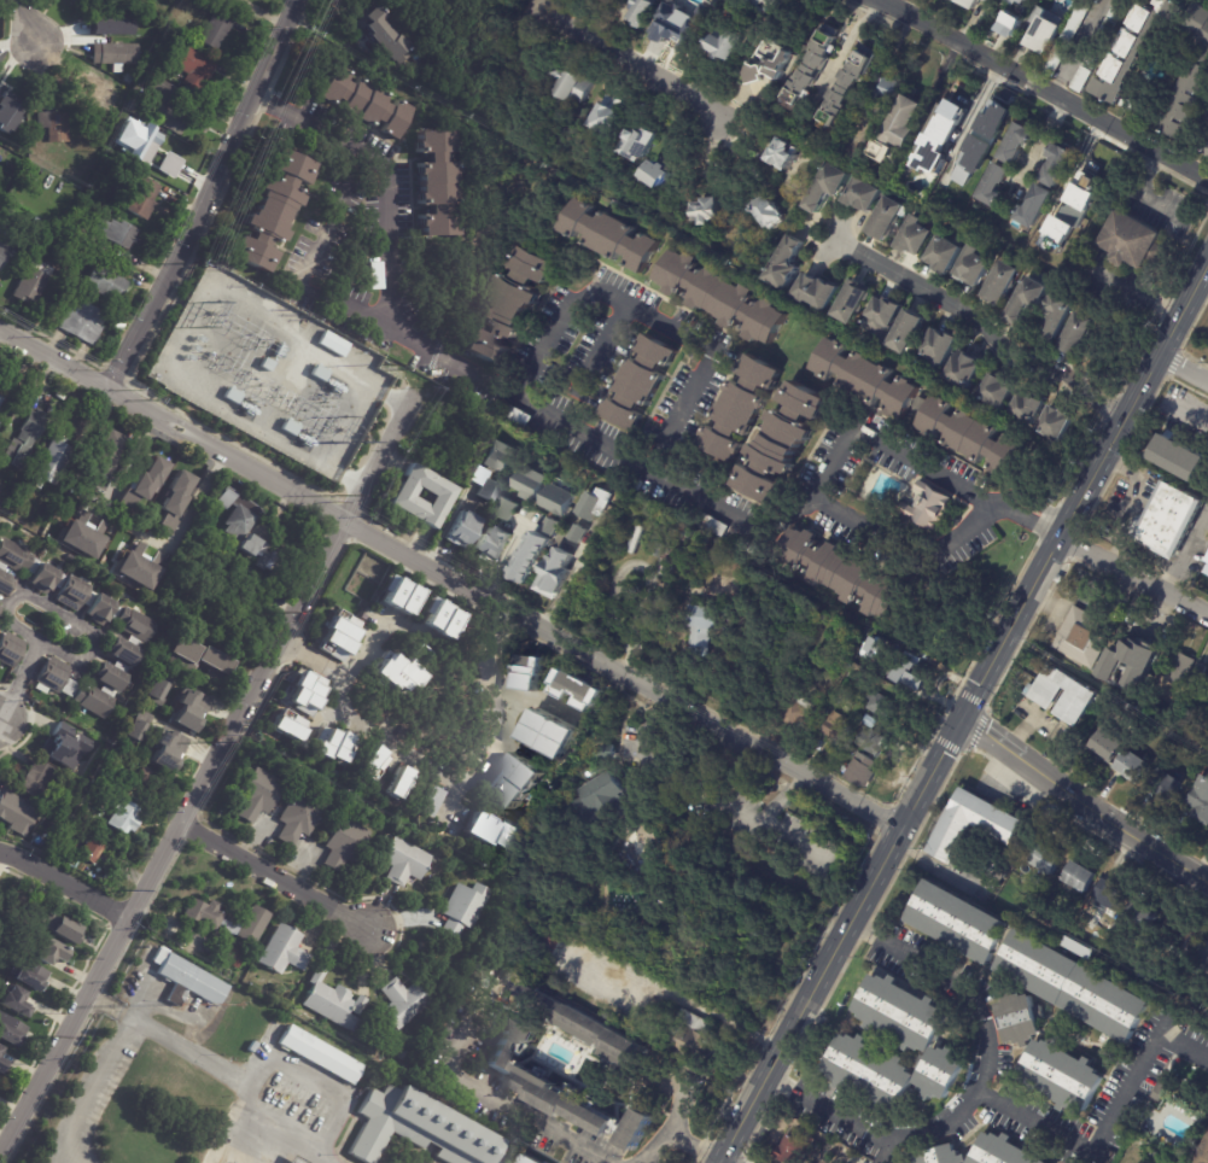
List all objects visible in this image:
building: (947, 0)
building: (1019, 0)
building: (1023, 0)
building: (75, 1)
building: (987, 1)
building: (990, 1)
building: (1011, 1)
road: (531, 2)
building: (971, 2)
building: (774, 6)
building: (642, 12)
building: (116, 17)
road: (24, 19)
building: (1076, 22)
building: (1014, 24)
building: (765, 25)
building: (677, 27)
building: (216, 29)
building: (1044, 30)
building: (380, 31)
building: (0, 33)
building: (171, 33)
building: (1109, 33)
building: (730, 43)
road: (1079, 45)
building: (147, 53)
building: (115, 54)
building: (784, 58)
building: (1056, 59)
building: (816, 66)
building: (194, 68)
building: (1125, 68)
road: (644, 69)
building: (757, 74)
building: (171, 76)
building: (1084, 78)
building: (129, 80)
building: (572, 84)
building: (850, 87)
building: (887, 88)
building: (97, 89)
road: (1051, 89)
building: (366, 101)
building: (7, 105)
building: (168, 105)
building: (130, 106)
building: (113, 113)
building: (609, 115)
building: (906, 121)
building: (56, 125)
road: (311, 130)
building: (941, 135)
building: (136, 139)
road: (1040, 139)
power tower: (249, 140)
building: (981, 141)
building: (638, 142)
building: (786, 153)
building: (151, 154)
building: (584, 162)
building: (1005, 163)
building: (169, 164)
building: (659, 174)
building: (1087, 180)
building: (438, 183)
building: (830, 186)
building: (1047, 186)
building: (866, 194)
road: (206, 197)
building: (142, 198)
building: (0, 209)
building: (707, 210)
building: (768, 210)
building: (77, 211)
building: (272, 211)
building: (103, 215)
building: (889, 217)
building: (36, 222)
building: (46, 227)
building: (115, 233)
building: (607, 235)
building: (917, 236)
building: (1132, 240)
building: (2, 252)
building: (947, 253)
power tower: (194, 263)
building: (788, 264)
building: (974, 267)
building: (31, 281)
building: (1003, 282)
building: (103, 284)
road: (326, 291)
building: (818, 292)
building: (719, 297)
building: (1029, 299)
building: (856, 303)
building: (509, 306)
building: (1060, 309)
building: (882, 317)
road: (653, 321)
building: (81, 322)
building: (118, 325)
road: (985, 325)
building: (909, 332)
building: (1079, 332)
building: (334, 344)
road: (606, 344)
building: (941, 347)
building: (279, 351)
building: (267, 364)
road: (1183, 368)
building: (964, 369)
power substation: (269, 372)
building: (320, 374)
building: (865, 379)
building: (638, 382)
building: (996, 391)
building: (232, 396)
building: (920, 403)
building: (4, 404)
building: (1026, 408)
building: (740, 409)
building: (1054, 425)
road: (173, 426)
building: (290, 428)
building: (968, 434)
building: (28, 437)
building: (783, 443)
road: (383, 451)
building: (498, 456)
building: (541, 456)
building: (1181, 458)
building: (103, 461)
building: (49, 463)
building: (148, 478)
building: (527, 483)
road: (671, 483)
building: (483, 485)
building: (403, 497)
building: (175, 499)
building: (555, 499)
building: (591, 504)
building: (927, 507)
building: (49, 508)
building: (507, 515)
building: (1171, 521)
building: (548, 526)
building: (712, 526)
building: (243, 527)
building: (461, 530)
building: (576, 533)
building: (689, 537)
building: (81, 539)
building: (635, 540)
building: (490, 543)
road: (903, 544)
building: (752, 549)
building: (13, 556)
building: (527, 556)
building: (669, 559)
building: (33, 567)
building: (1, 568)
building: (553, 573)
building: (842, 574)
road: (1133, 574)
building: (42, 579)
building: (58, 581)
building: (4, 585)
building: (72, 594)
building: (401, 597)
building: (88, 600)
building: (99, 610)
building: (115, 614)
building: (199, 616)
building: (439, 619)
building: (135, 625)
building: (183, 625)
building: (714, 629)
road: (93, 635)
building: (339, 636)
road: (374, 637)
building: (1085, 637)
road: (496, 638)
building: (135, 643)
building: (875, 648)
building: (10, 650)
building: (123, 653)
road: (314, 658)
building: (198, 659)
building: (1133, 665)
building: (122, 667)
building: (1179, 670)
building: (1200, 673)
building: (398, 674)
building: (529, 674)
building: (911, 674)
building: (52, 676)
road: (624, 676)
building: (109, 678)
building: (69, 689)
building: (156, 690)
building: (574, 690)
building: (305, 691)
building: (109, 692)
building: (1061, 696)
road: (525, 697)
building: (94, 702)
building: (193, 706)
building: (881, 706)
road: (963, 712)
building: (796, 713)
road: (0, 718)
traffic signals: (959, 720)
building: (288, 724)
building: (833, 730)
building: (133, 732)
building: (548, 736)
road: (988, 736)
building: (170, 738)
building: (60, 743)
building: (871, 743)
building: (333, 744)
building: (1104, 746)
building: (374, 762)
road: (434, 764)
building: (1134, 767)
building: (594, 770)
building: (859, 771)
building: (148, 779)
building: (36, 781)
building: (515, 782)
building: (399, 783)
building: (1171, 788)
building: (256, 796)
building: (1200, 801)
building: (433, 803)
building: (601, 803)
building: (16, 813)
building: (123, 819)
building: (297, 819)
road: (1109, 823)
building: (495, 831)
building: (951, 832)
road: (170, 838)
building: (42, 842)
building: (343, 846)
building: (92, 851)
building: (57, 854)
building: (1046, 858)
building: (404, 863)
building: (1081, 875)
road: (274, 877)
road: (64, 883)
building: (1115, 900)
building: (463, 912)
building: (1143, 912)
building: (958, 921)
building: (214, 922)
building: (62, 930)
building: (284, 949)
building: (49, 952)
building: (235, 957)
building: (1202, 958)
building: (31, 980)
building: (188, 980)
building: (1144, 981)
building: (1074, 986)
road: (104, 1001)
road: (141, 1001)
building: (334, 1001)
building: (405, 1001)
building: (16, 1003)
road: (699, 1006)
road: (163, 1009)
building: (906, 1012)
building: (1021, 1018)
building: (584, 1024)
building: (11, 1033)
building: (688, 1033)
building: (509, 1042)
building: (251, 1047)
building: (0, 1052)
building: (320, 1053)
building: (405, 1056)
building: (4, 1064)
building: (871, 1069)
building: (945, 1071)
building: (1062, 1075)
road: (235, 1079)
road: (317, 1082)
road: (479, 1087)
road: (91, 1091)
building: (1162, 1091)
road: (975, 1093)
building: (561, 1101)
road: (1107, 1123)
road: (664, 1124)
building: (421, 1128)
building: (636, 1129)
road: (245, 1132)
road: (690, 1145)
building: (788, 1150)
building: (1004, 1151)
building: (1203, 1155)
building: (941, 1156)
road: (1086, 1158)
building: (529, 1159)
building: (294, 1161)
road: (718, 1162)

